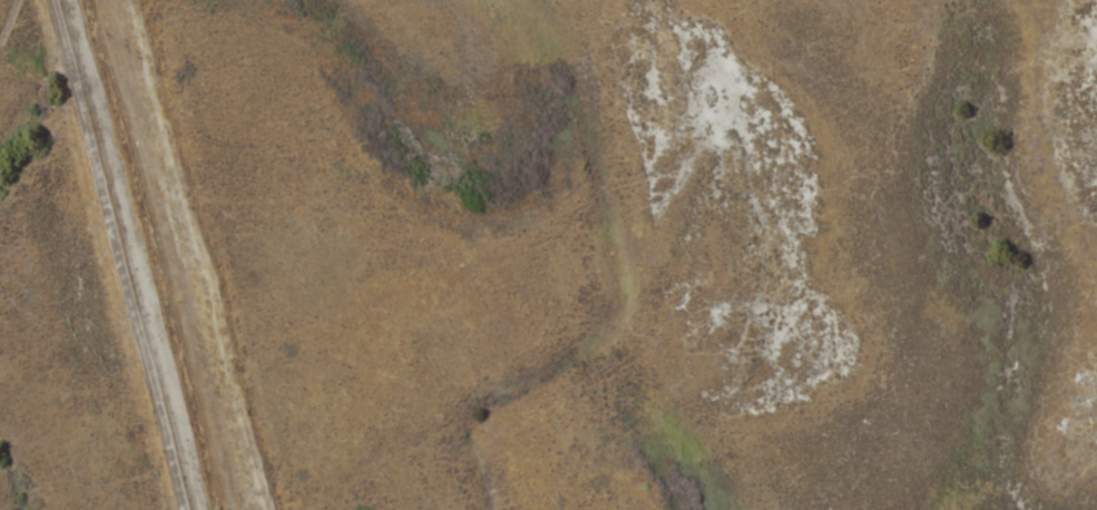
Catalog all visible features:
road: (88, 255)

